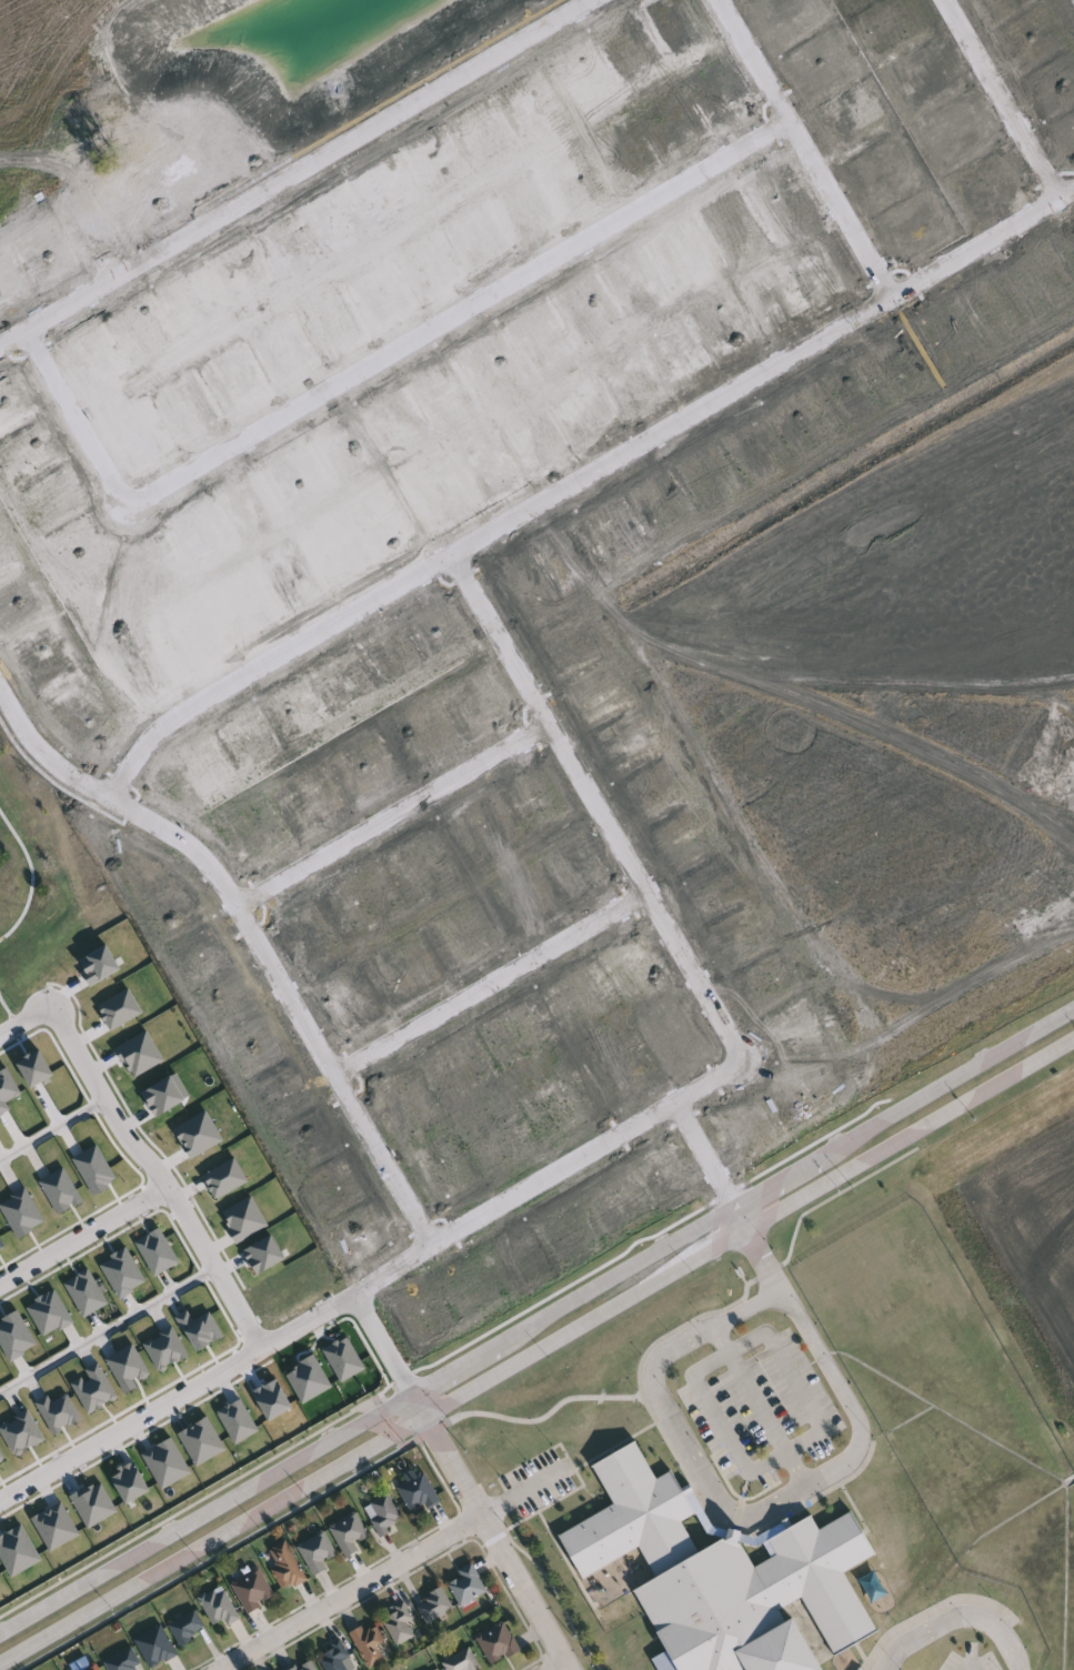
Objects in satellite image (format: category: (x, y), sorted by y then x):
road: (1006, 95)
road: (813, 144)
road: (293, 171)
road: (375, 361)
road: (584, 477)
road: (397, 808)
road: (31, 875)
road: (255, 926)
road: (494, 977)
road: (719, 1003)
road: (8, 1008)
road: (52, 1127)
road: (710, 1148)
road: (140, 1150)
road: (84, 1234)
road: (759, 1245)
road: (536, 1321)
road: (108, 1328)
road: (383, 1342)
road: (536, 1350)
road: (177, 1395)
road: (761, 1407)
parking lot: (766, 1415)
road: (784, 1451)
road: (842, 1468)
parking lot: (541, 1486)
building: (420, 1493)
building: (384, 1515)
road: (490, 1531)
building: (350, 1533)
building: (320, 1553)
building: (287, 1567)
building: (720, 1576)
building: (468, 1586)
building: (253, 1591)
road: (350, 1593)
building: (435, 1606)
building: (219, 1607)
road: (956, 1618)
building: (400, 1624)
building: (188, 1628)
building: (499, 1643)
building: (371, 1644)
building: (155, 1647)
building: (337, 1658)
parking lot: (972, 1660)
building: (124, 1661)
building: (463, 1661)
building: (307, 1666)
road: (560, 1667)
road: (972, 1667)
building: (93, 1668)

